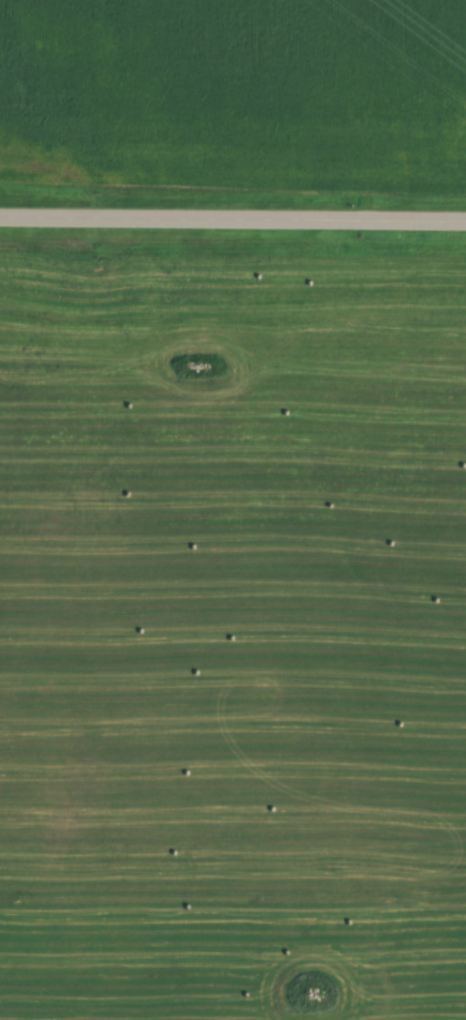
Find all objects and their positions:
road: (233, 214)

